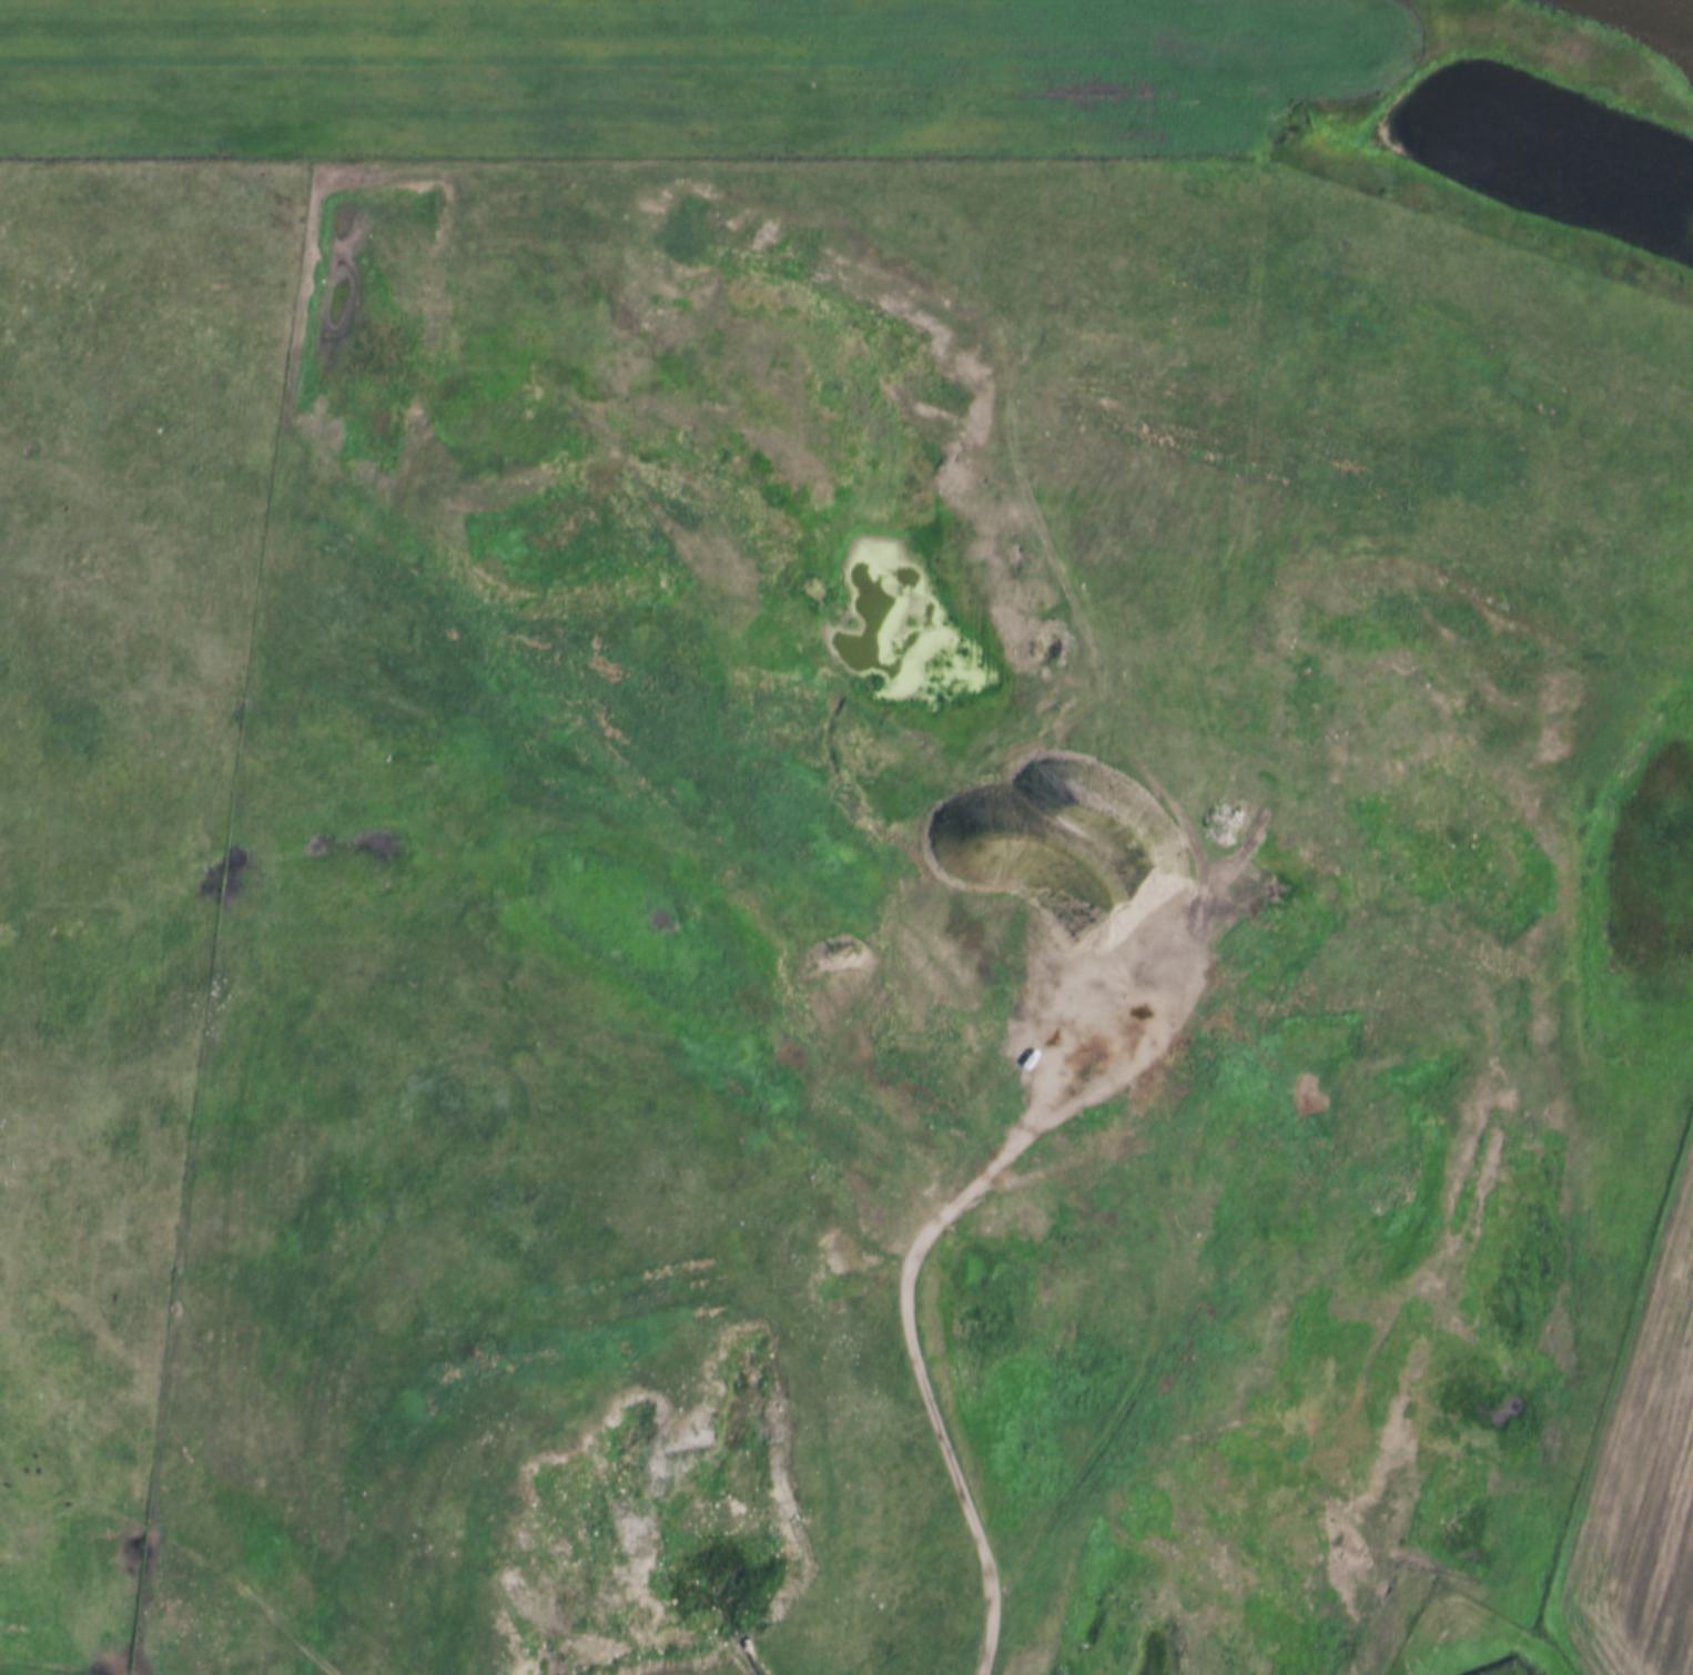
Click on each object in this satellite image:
river: (1672, 12)
road: (1026, 1009)
road: (71, 1429)

